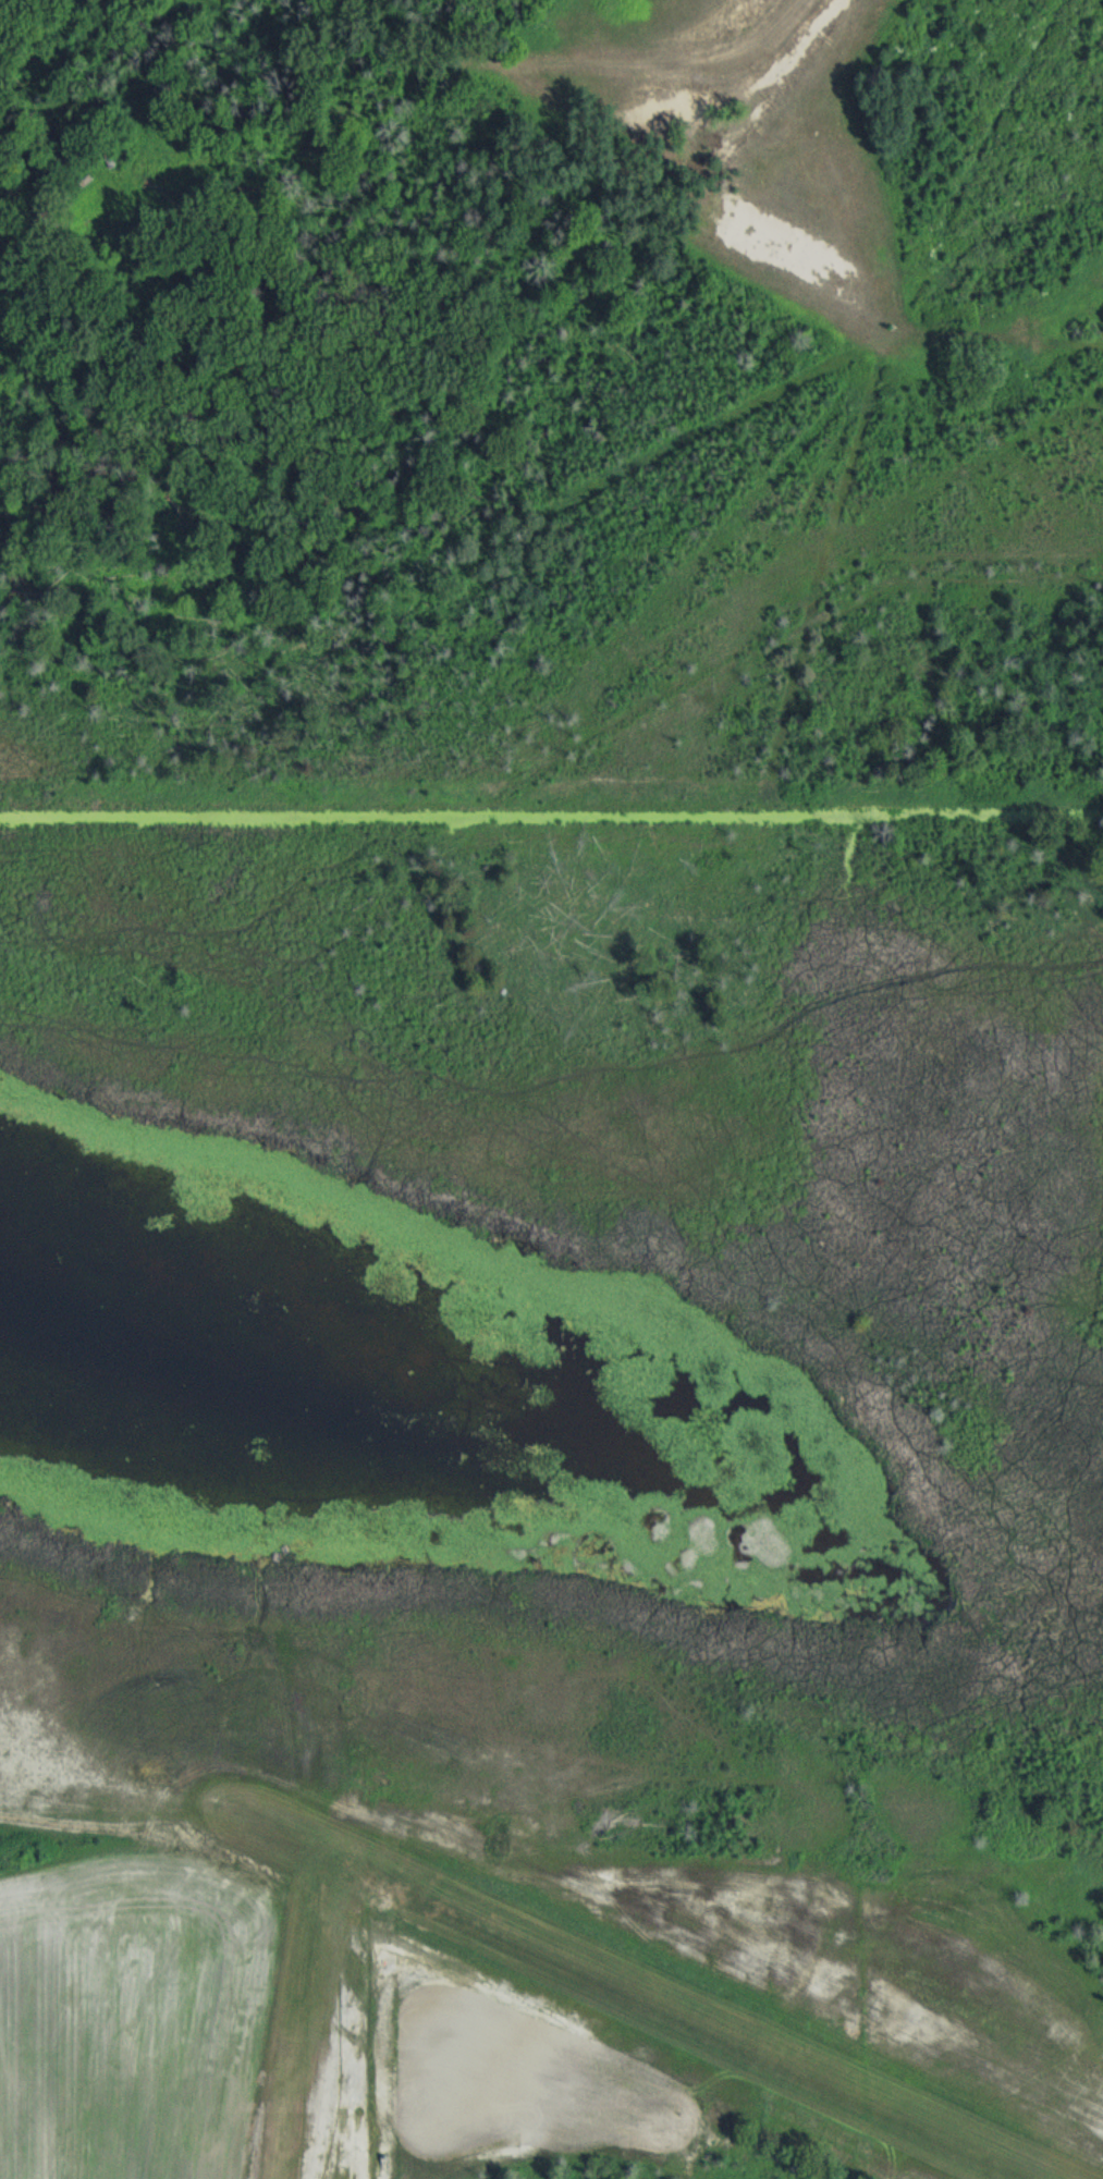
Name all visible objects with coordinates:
road: (396, 103)

